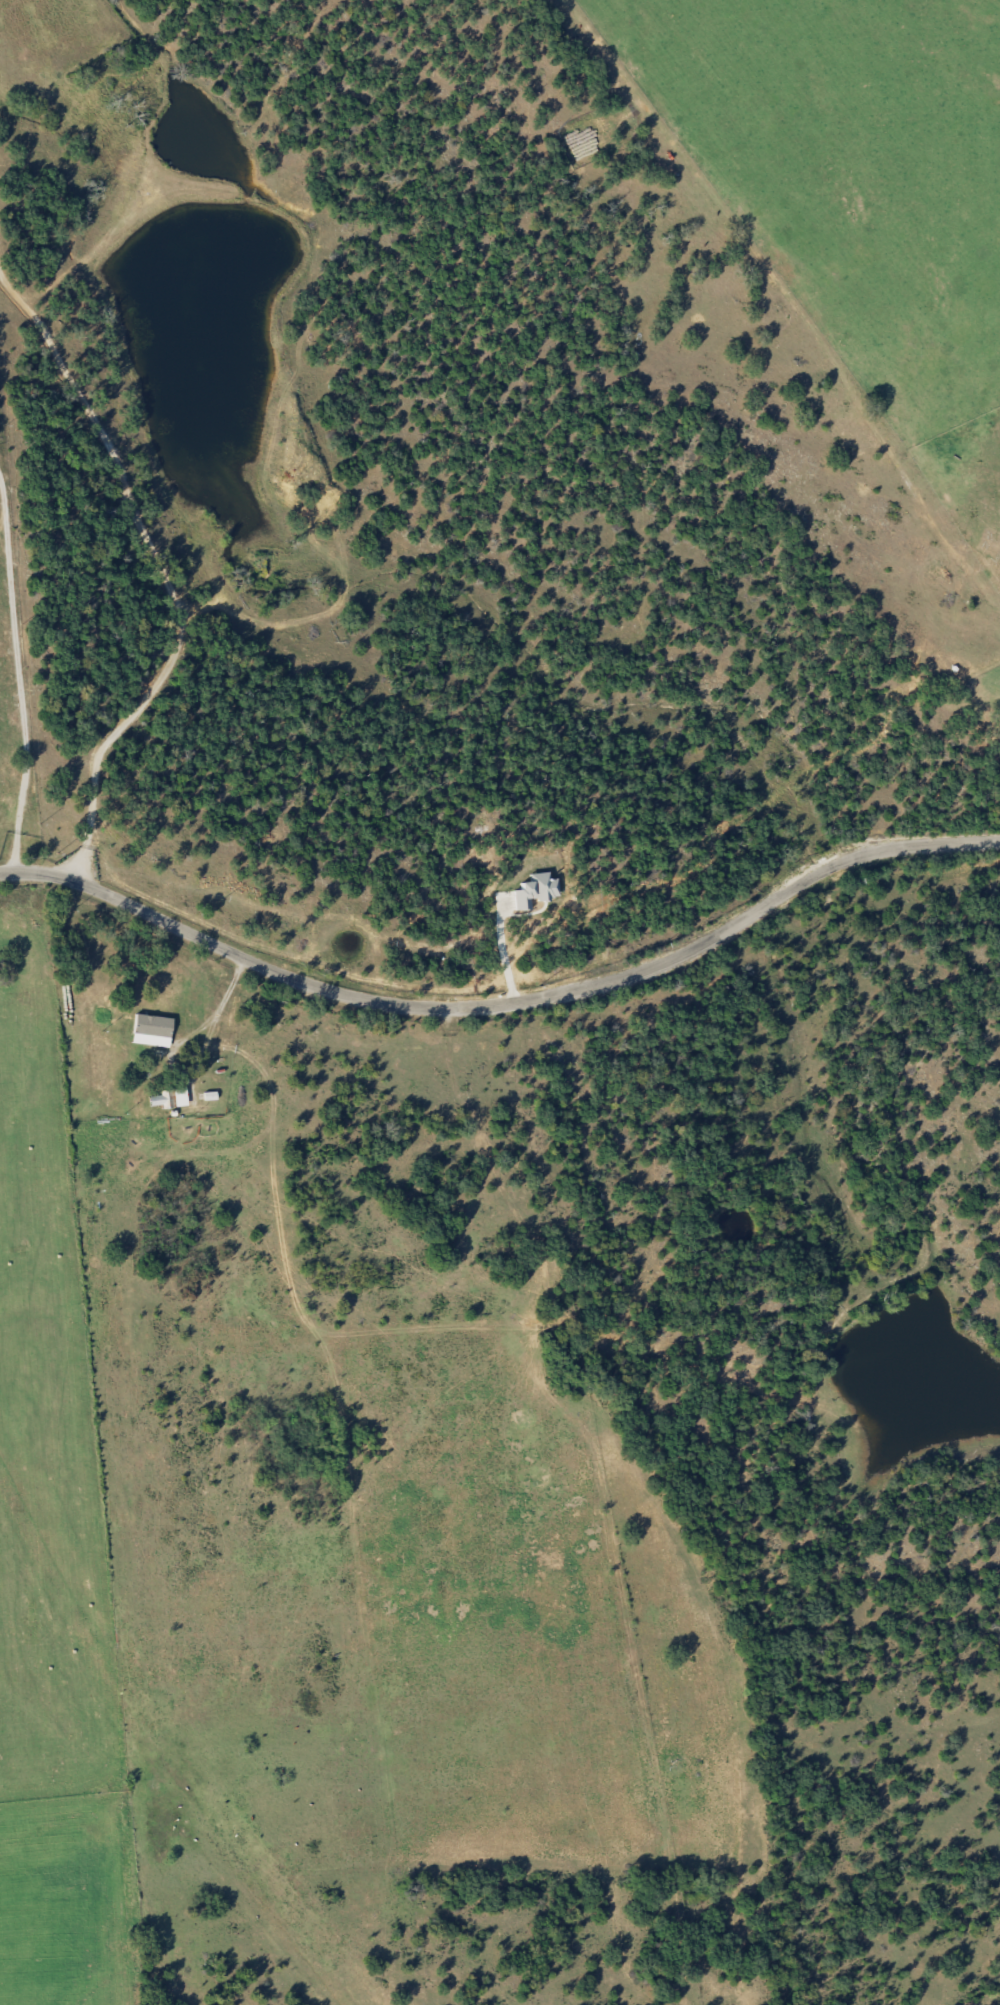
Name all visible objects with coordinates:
road: (504, 1002)
road: (218, 1017)
building: (164, 1098)

